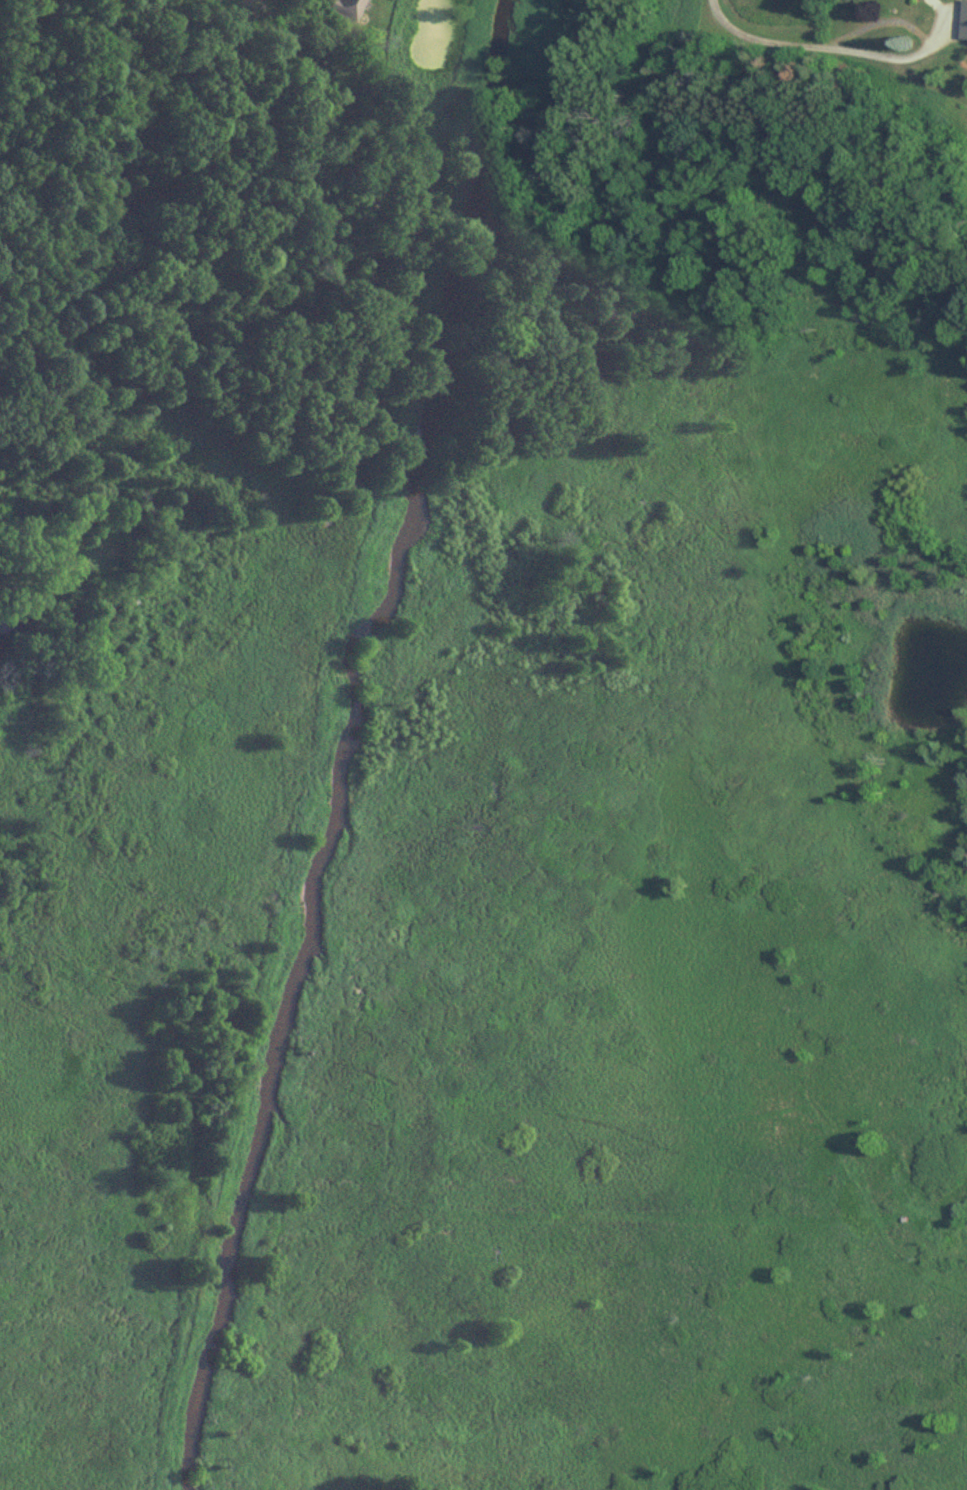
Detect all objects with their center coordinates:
building: (913, 0)
building: (343, 8)
road: (875, 22)
building: (965, 22)
road: (751, 40)
road: (890, 57)

